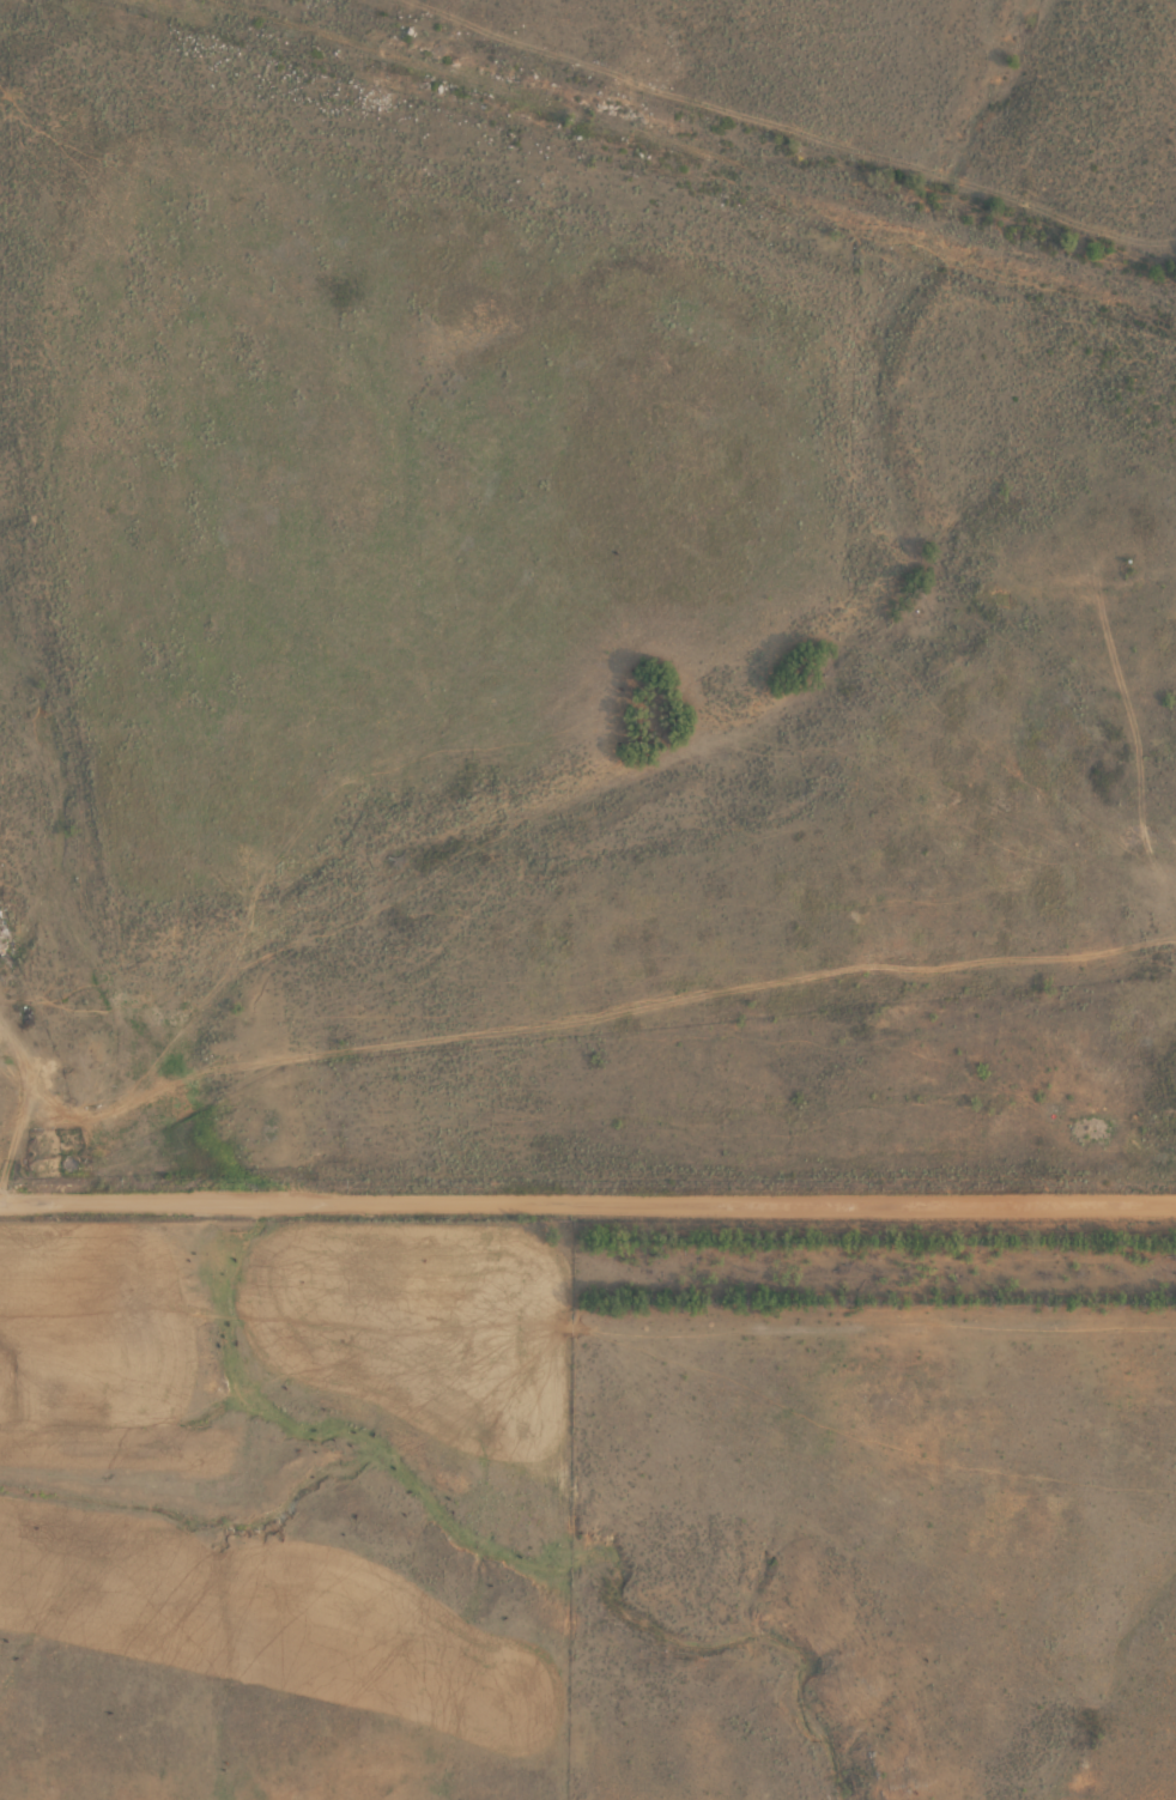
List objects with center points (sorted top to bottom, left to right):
road: (588, 1200)

